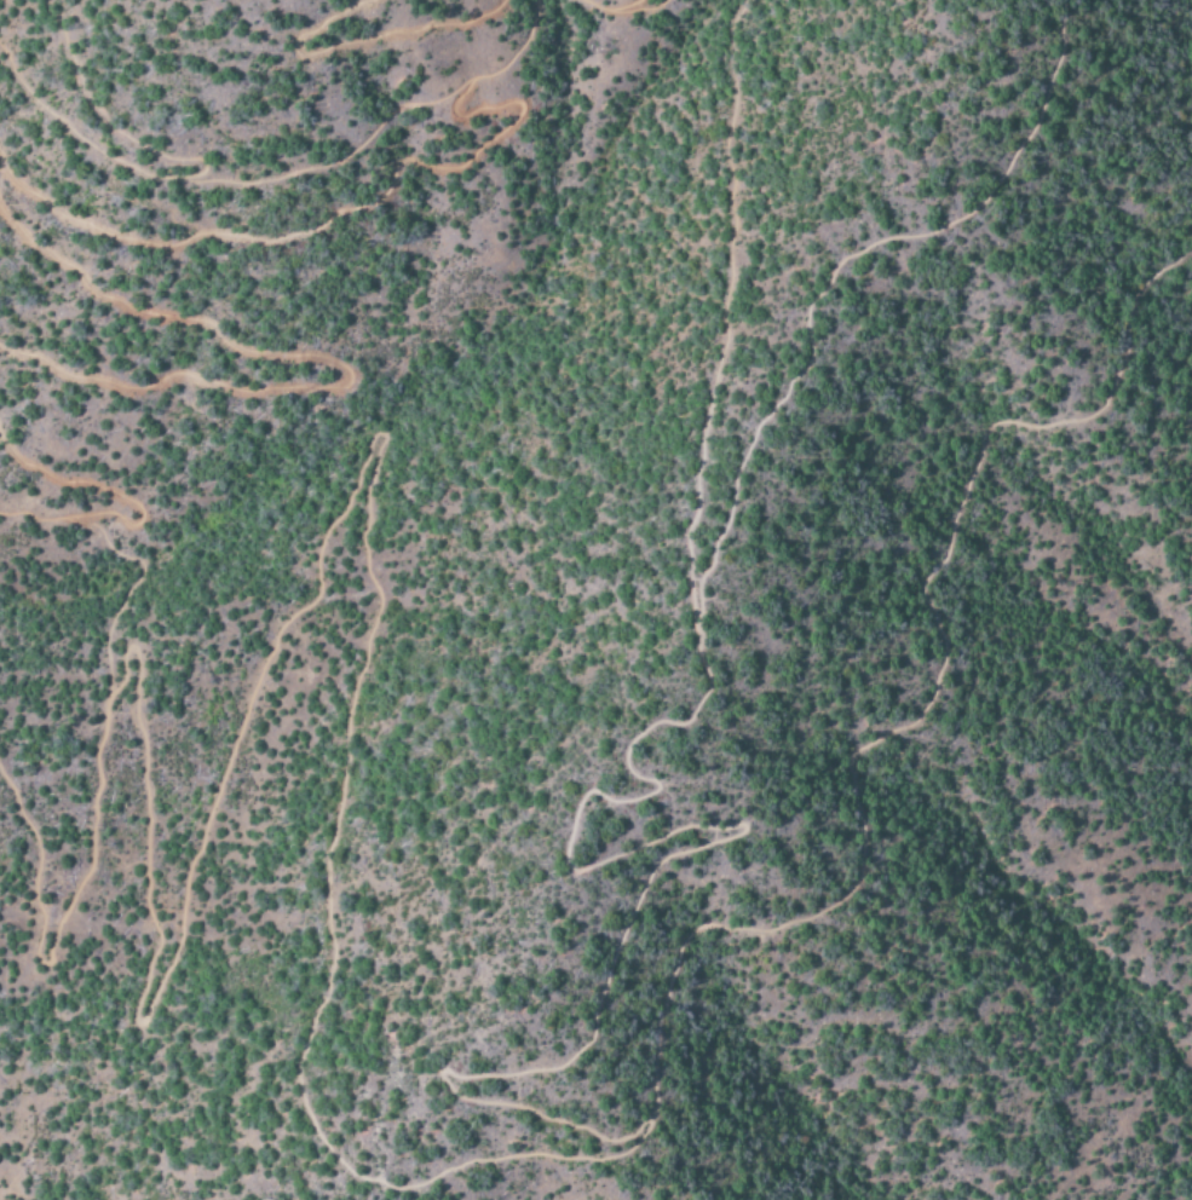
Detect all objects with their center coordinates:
road: (254, 2)
road: (618, 4)
road: (621, 6)
road: (345, 45)
road: (100, 109)
road: (382, 117)
road: (85, 138)
road: (319, 226)
road: (725, 300)
road: (333, 374)
road: (100, 487)
road: (299, 514)
road: (109, 544)
road: (908, 719)
road: (612, 797)
road: (45, 898)
road: (568, 1183)

